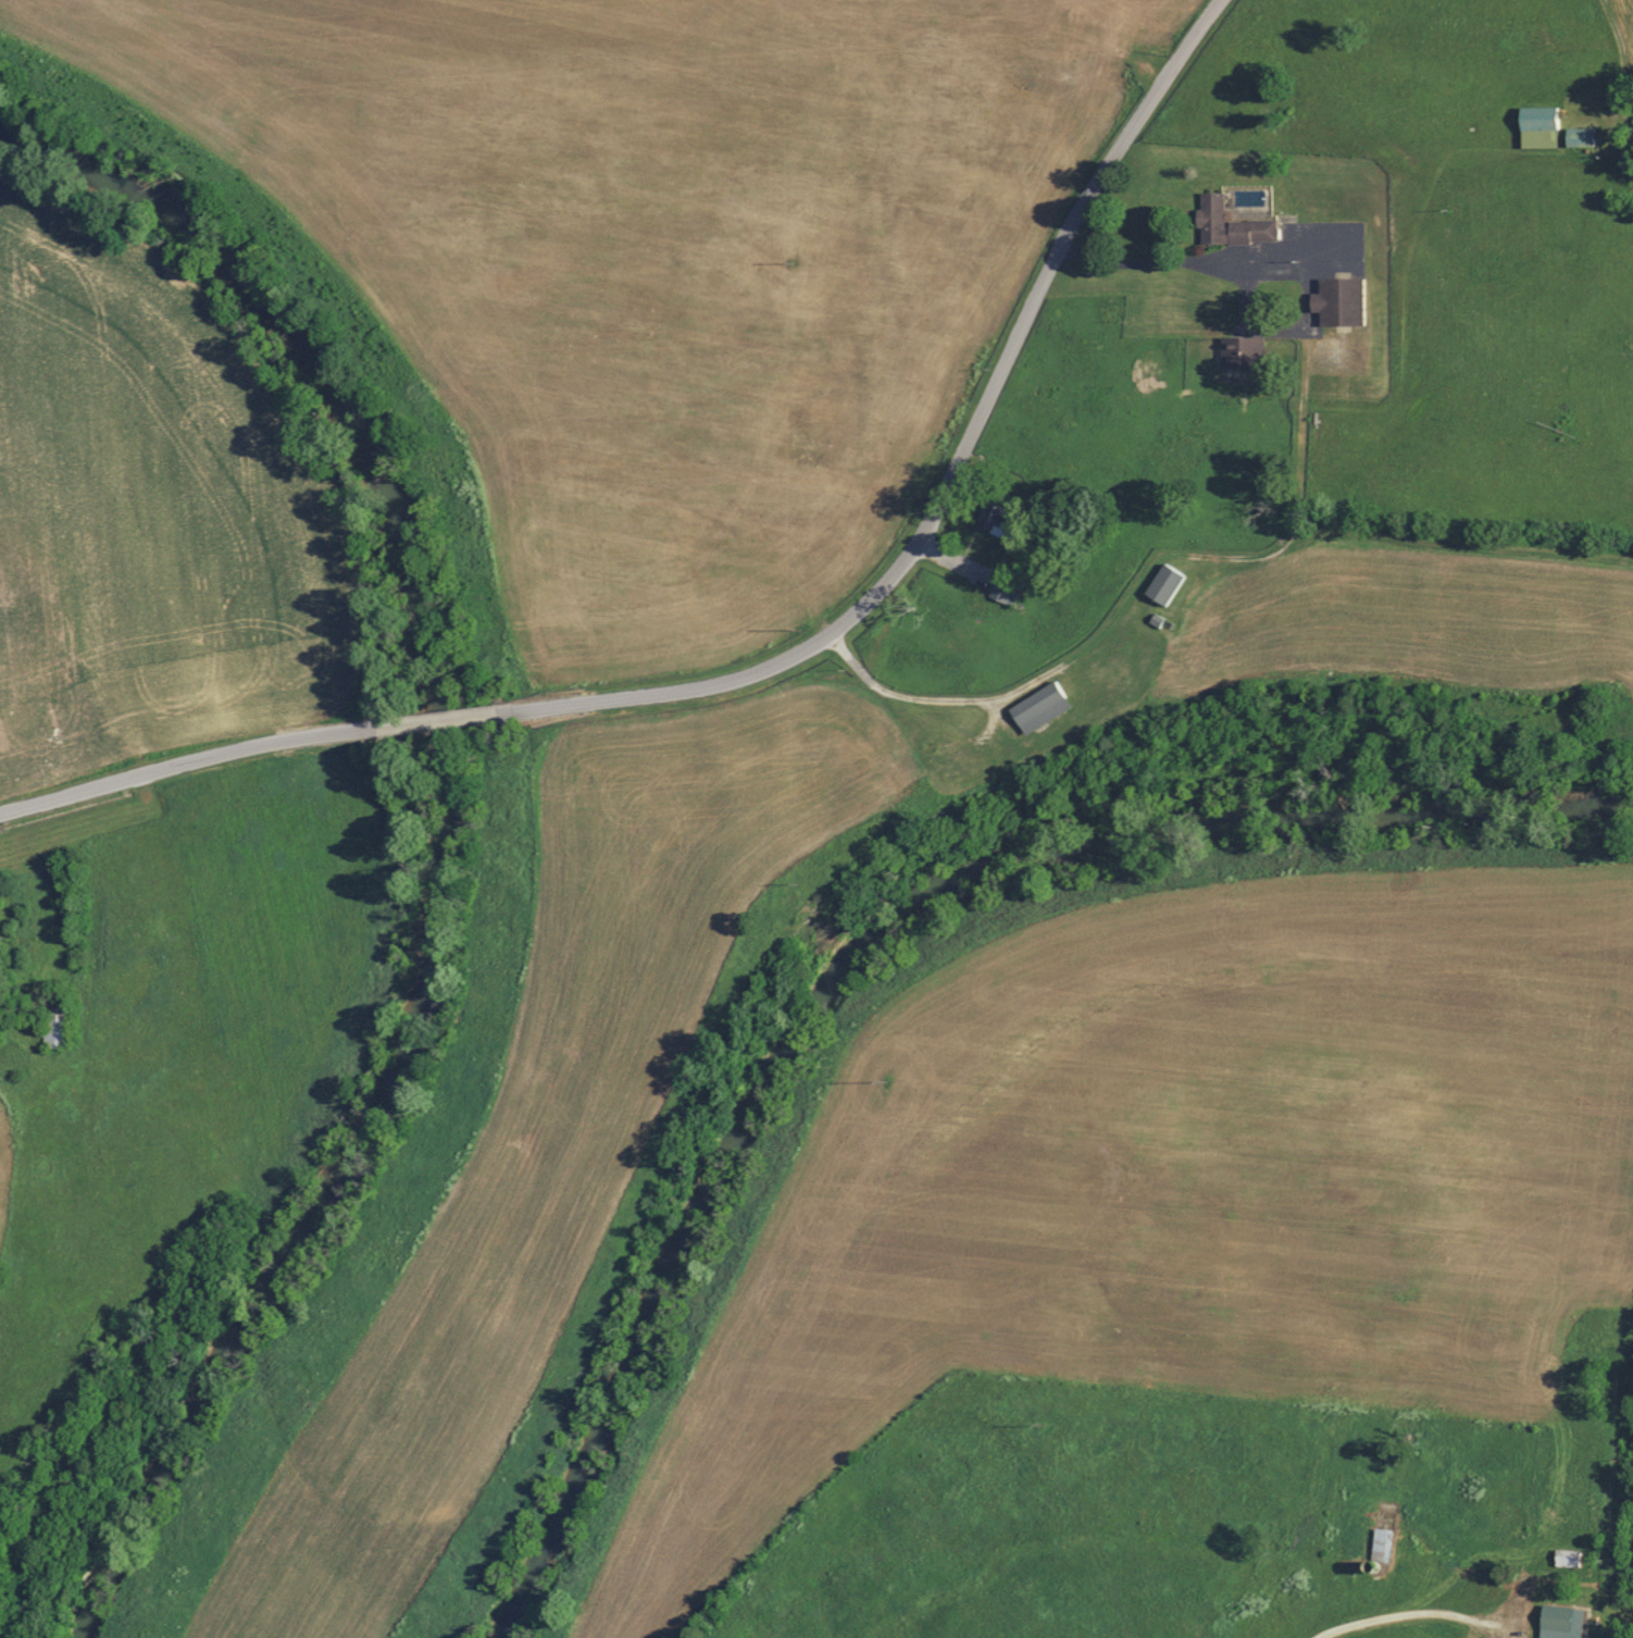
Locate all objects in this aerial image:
building: (1536, 116)
building: (1632, 128)
building: (1576, 136)
building: (1227, 224)
building: (1336, 300)
road: (1021, 327)
building: (1239, 351)
building: (998, 518)
building: (1162, 583)
building: (1007, 588)
road: (663, 697)
building: (1036, 706)
road: (437, 724)
road: (183, 762)
river: (453, 833)
river: (873, 942)
building: (55, 1022)
building: (1380, 1544)
building: (1563, 1556)
building: (1558, 1622)

